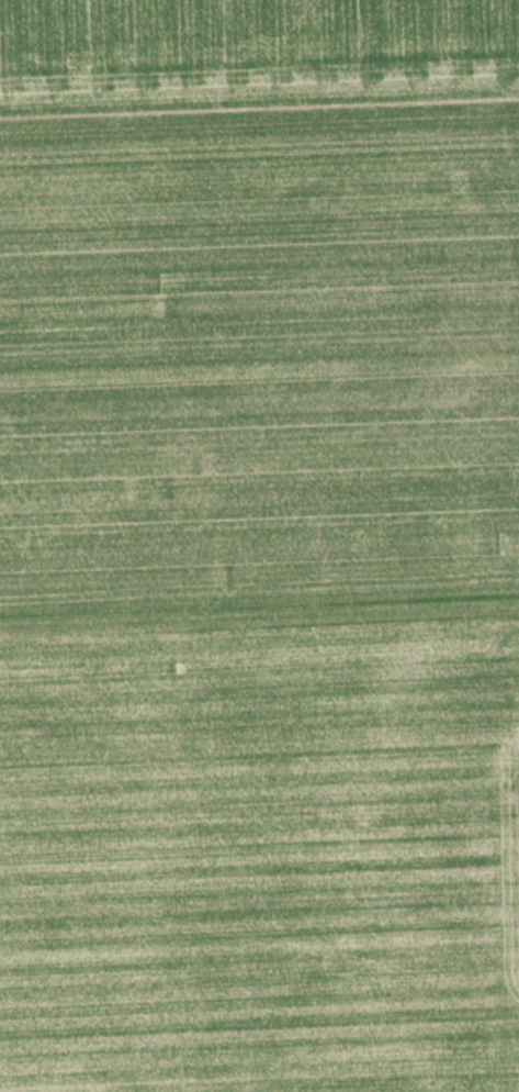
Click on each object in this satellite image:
crop: (257, 46)
crop: (259, 595)

